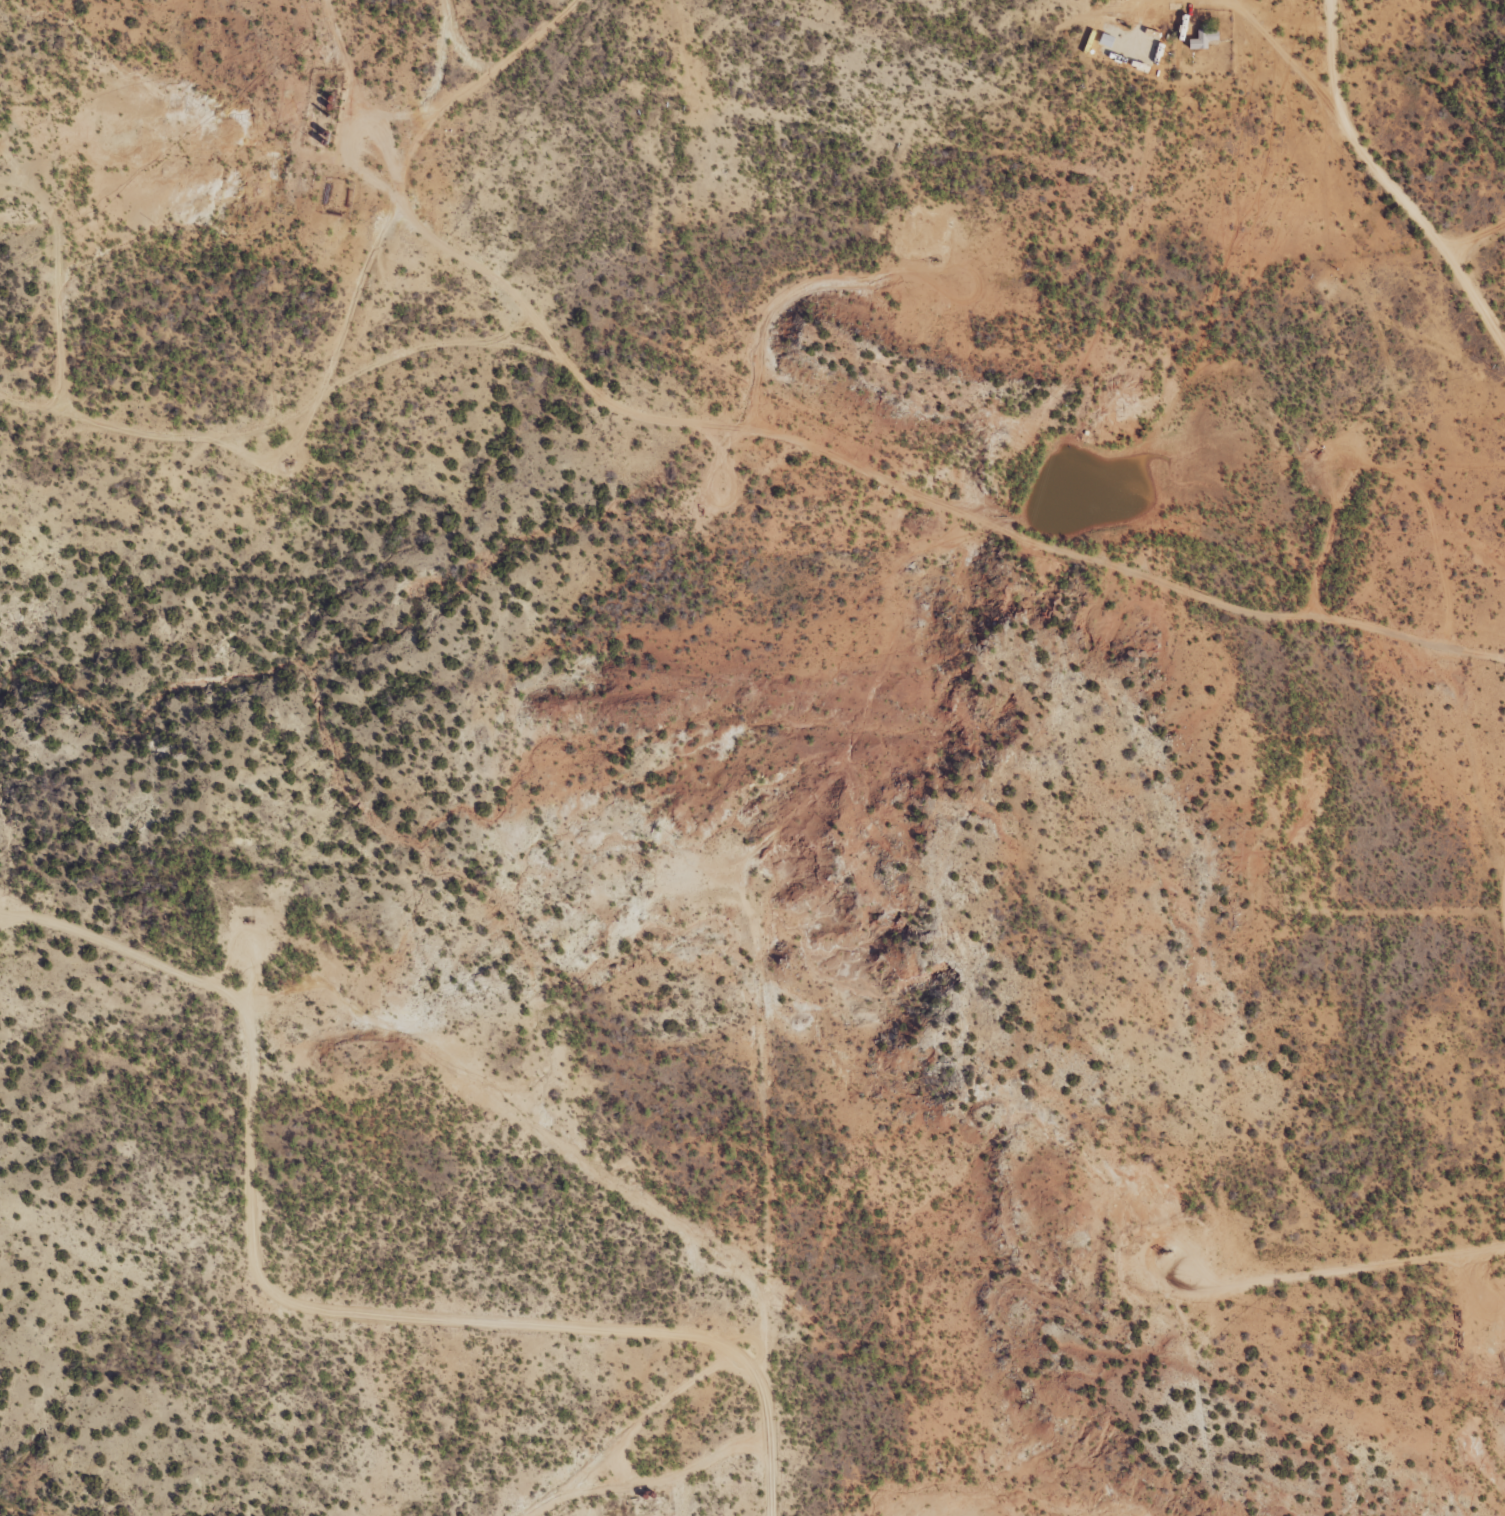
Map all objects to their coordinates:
building: (1205, 38)
road: (1365, 228)
road: (502, 291)
road: (348, 328)
road: (906, 524)
road: (772, 1194)
road: (351, 1343)
road: (647, 1451)

